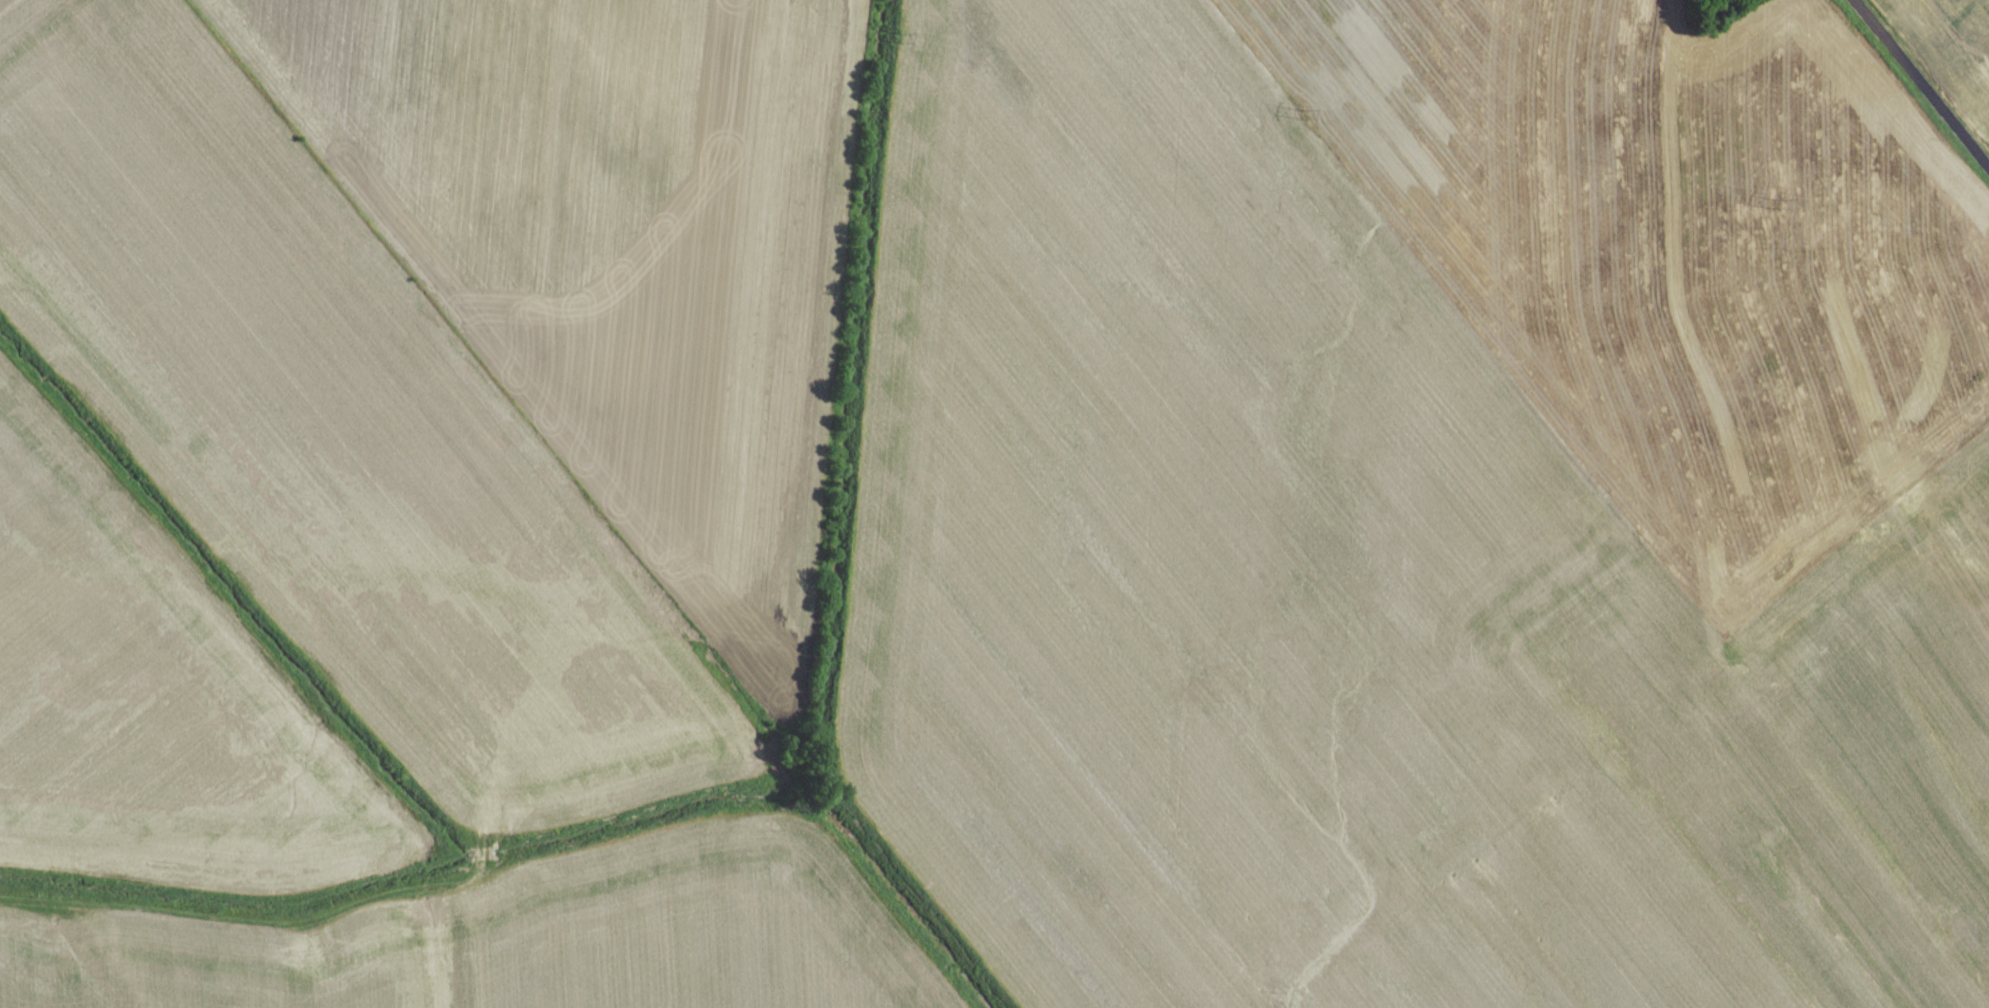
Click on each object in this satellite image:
road: (1920, 84)

